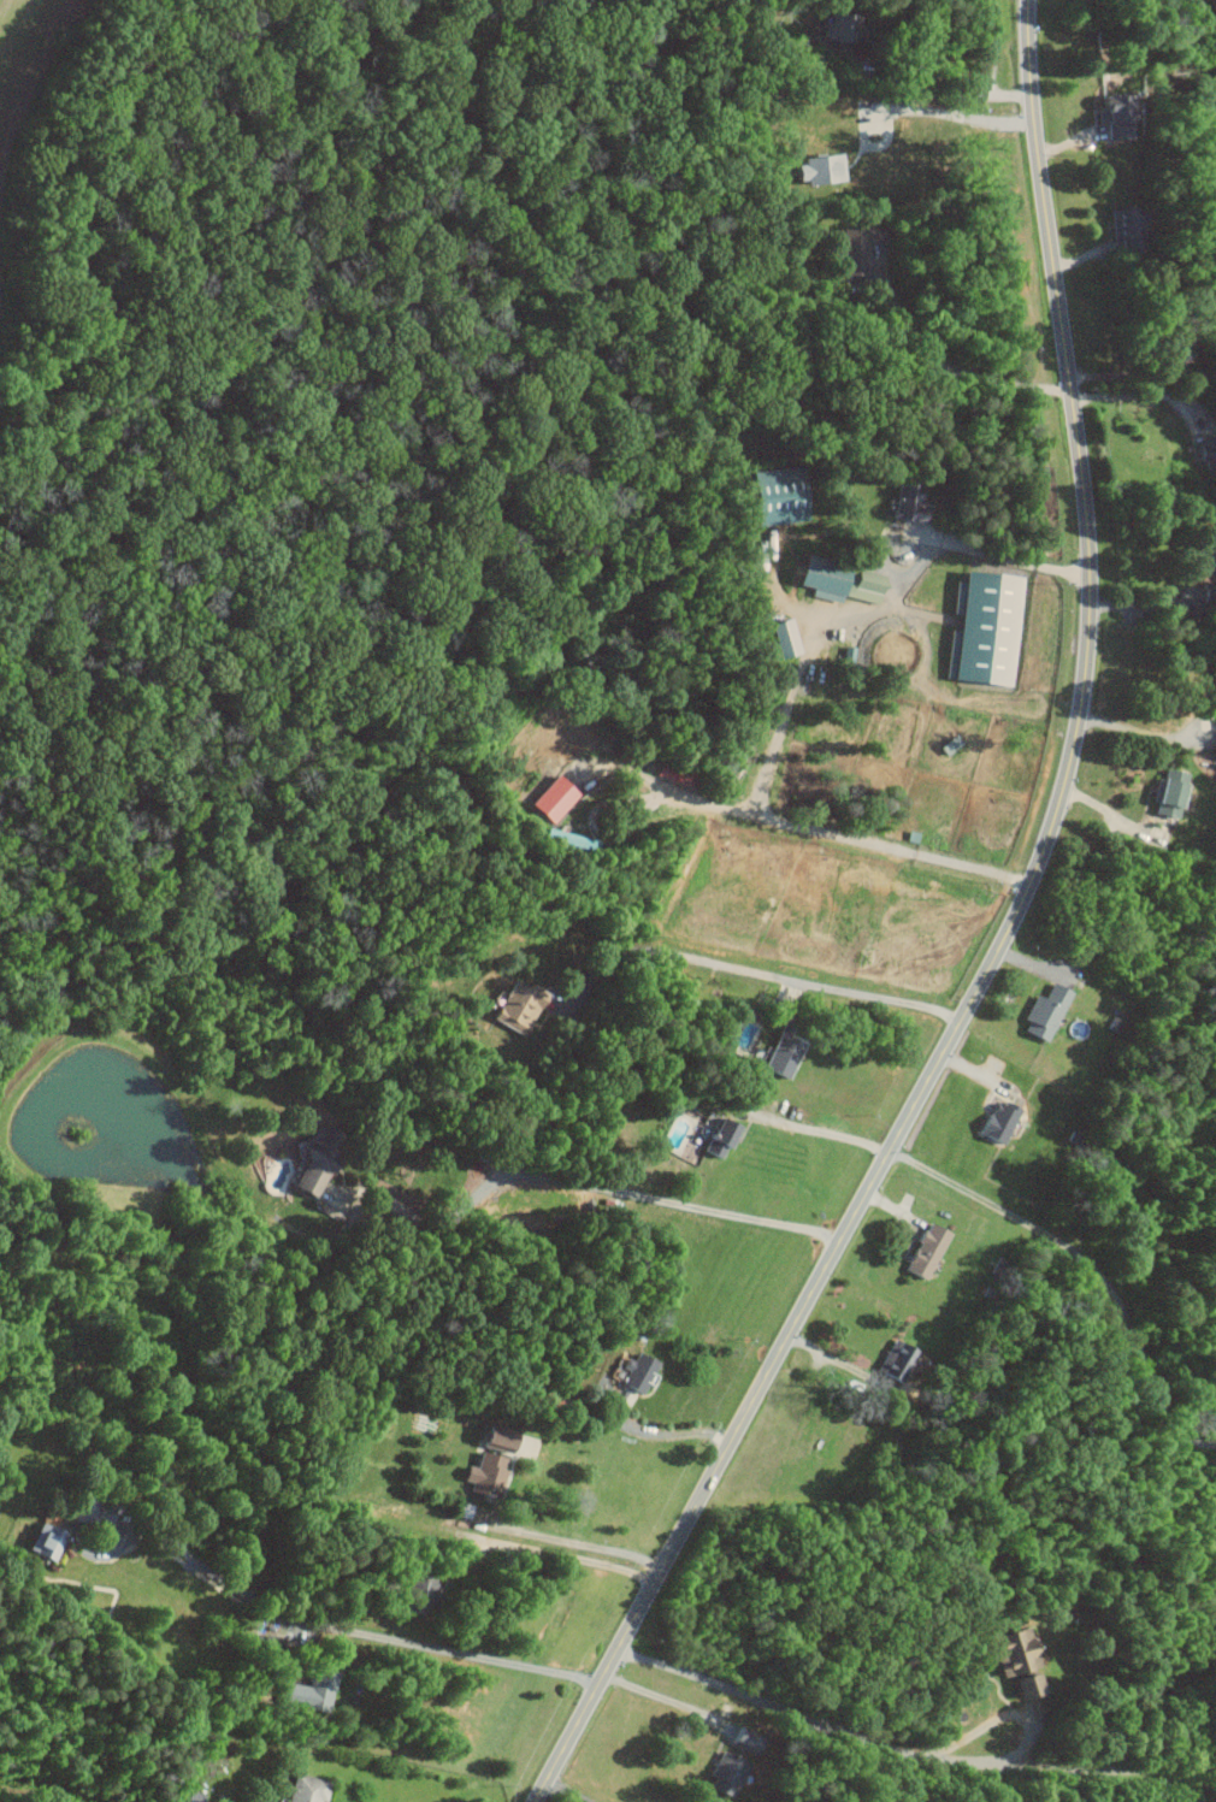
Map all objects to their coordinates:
building: (834, 28)
road: (946, 93)
road: (954, 114)
building: (819, 169)
building: (860, 246)
road: (956, 367)
road: (1137, 395)
building: (771, 495)
building: (907, 501)
road: (998, 557)
building: (814, 575)
building: (858, 584)
road: (777, 597)
road: (1150, 604)
building: (982, 626)
building: (781, 637)
road: (810, 651)
road: (1138, 732)
building: (1164, 793)
road: (1116, 816)
road: (832, 833)
road: (998, 950)
road: (758, 973)
building: (520, 1006)
building: (1040, 1012)
building: (775, 1060)
building: (993, 1121)
road: (814, 1129)
building: (715, 1138)
road: (583, 1182)
building: (922, 1249)
road: (1091, 1262)
park: (1116, 1347)
building: (893, 1363)
building: (637, 1372)
road: (672, 1432)
building: (488, 1438)
building: (483, 1472)
building: (100, 1512)
building: (49, 1540)
road: (580, 1541)
road: (356, 1631)
building: (1010, 1658)
building: (315, 1690)
road: (666, 1697)
road: (1027, 1718)
road: (909, 1751)
building: (724, 1774)
building: (313, 1789)
road: (566, 1790)

